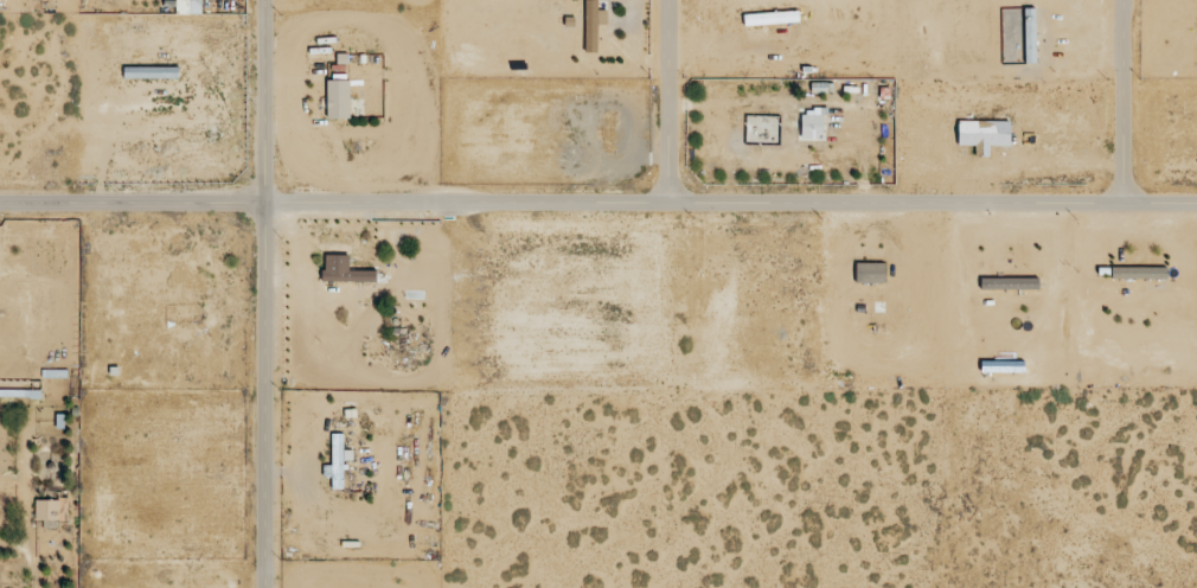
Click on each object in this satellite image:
road: (666, 103)
road: (1110, 103)
road: (597, 205)
road: (265, 294)

